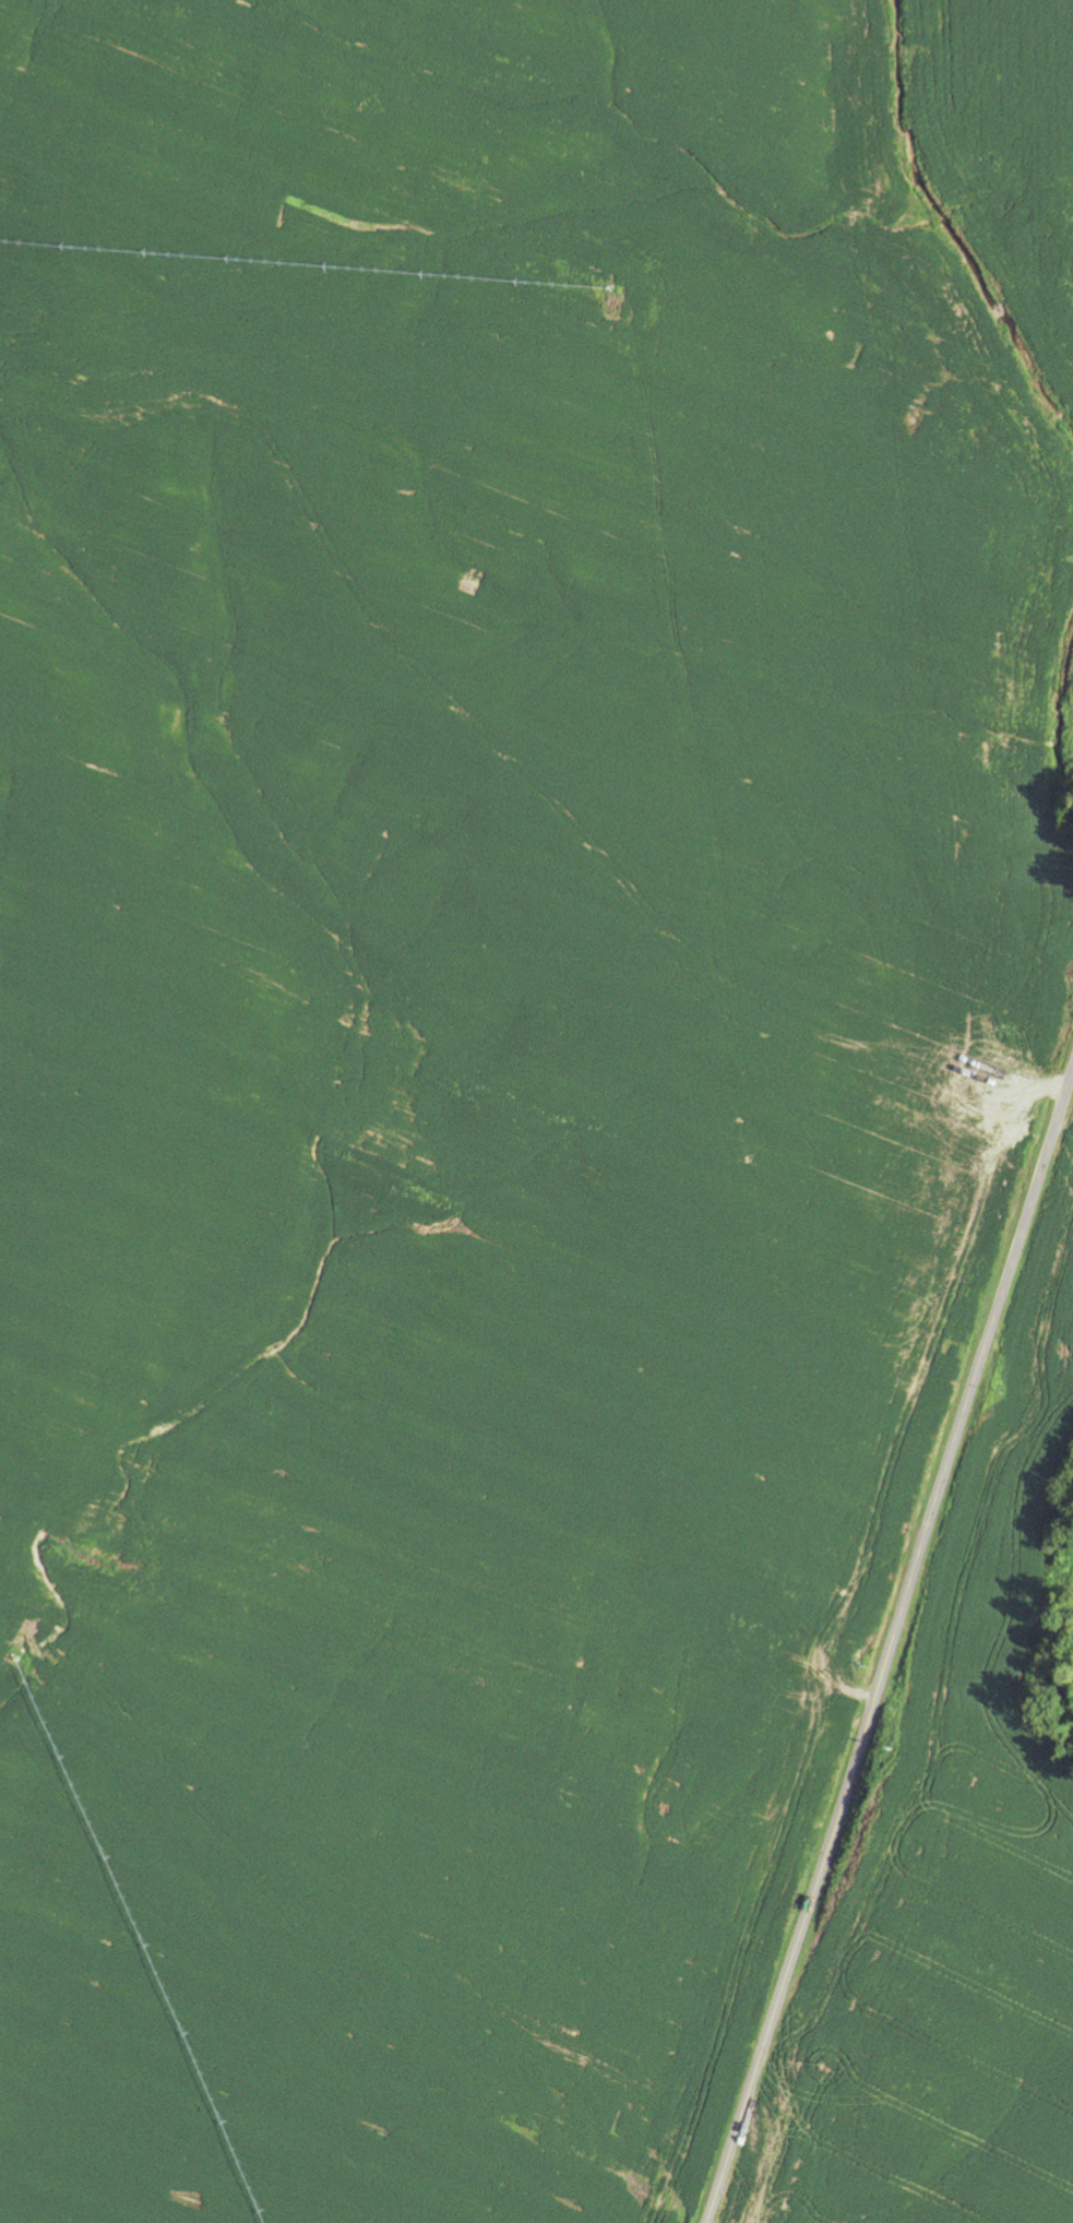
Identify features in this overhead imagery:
road: (891, 1651)

